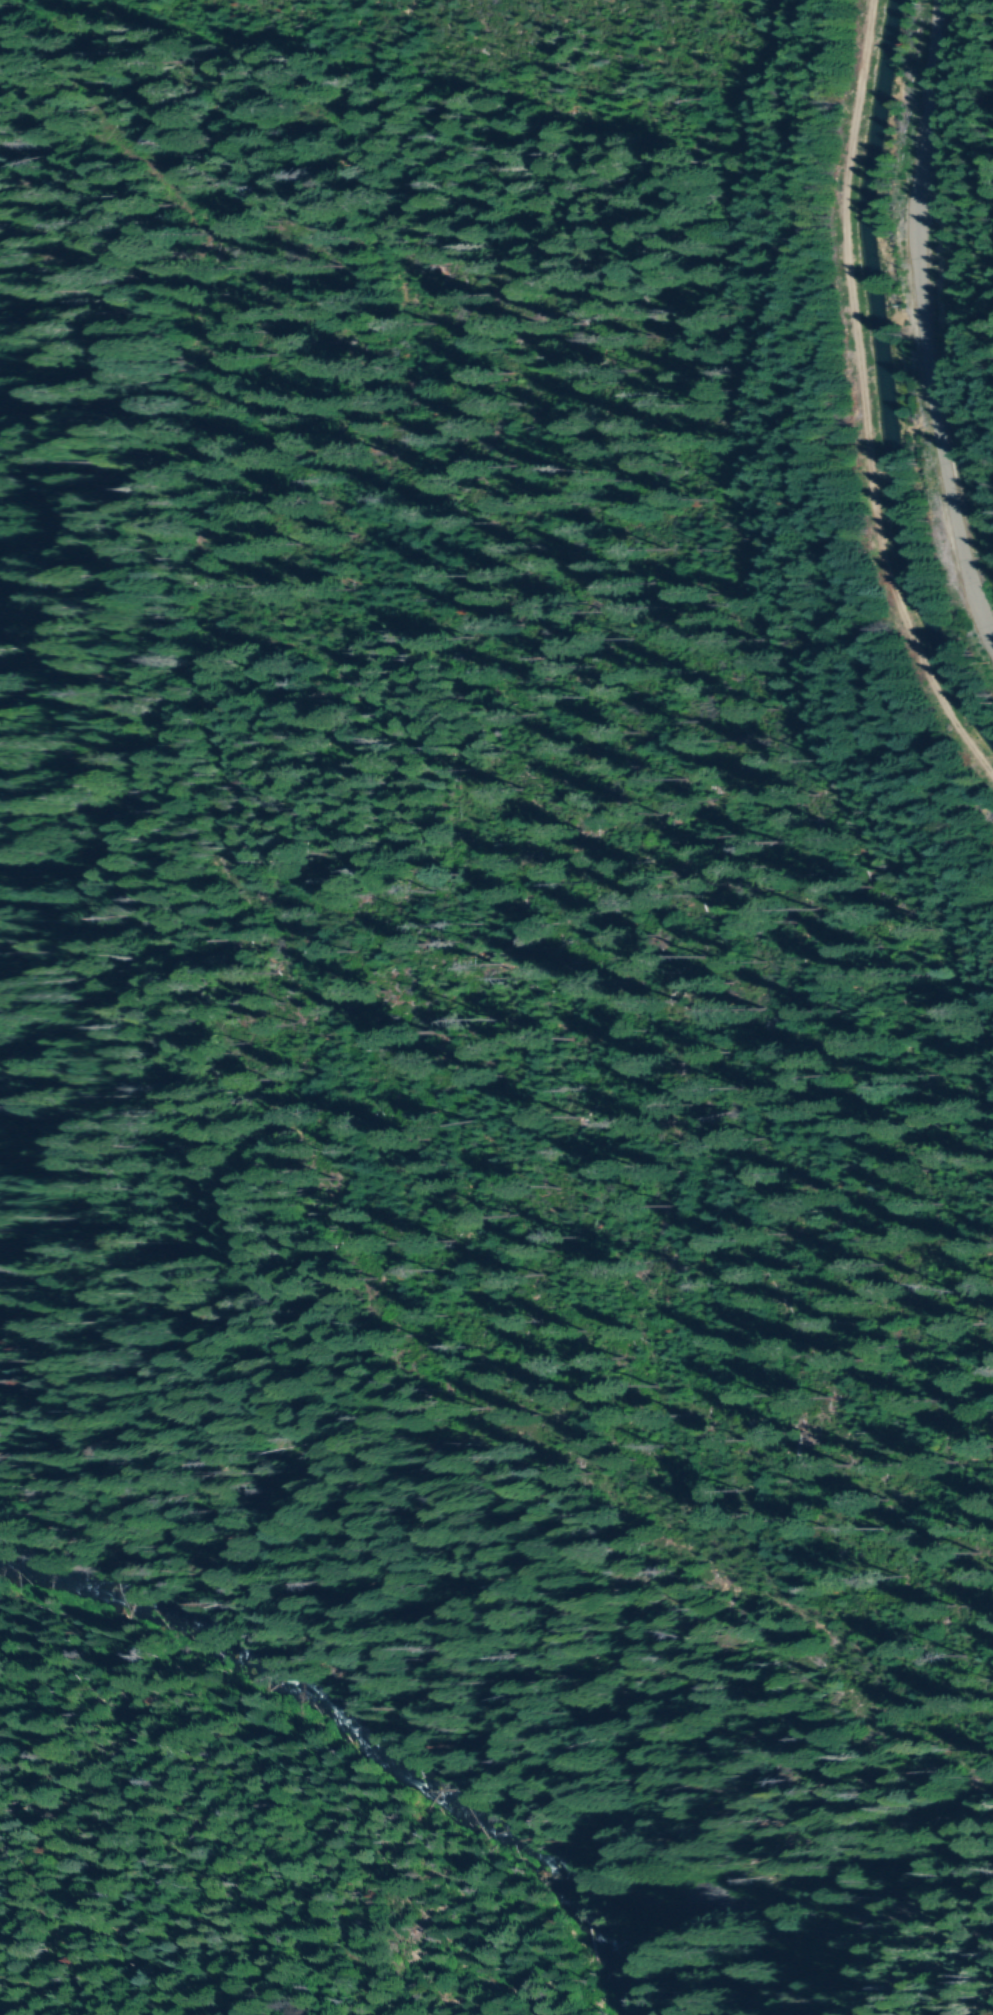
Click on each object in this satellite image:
road: (923, 327)
road: (863, 402)
road: (334, 1510)
river: (354, 1734)

